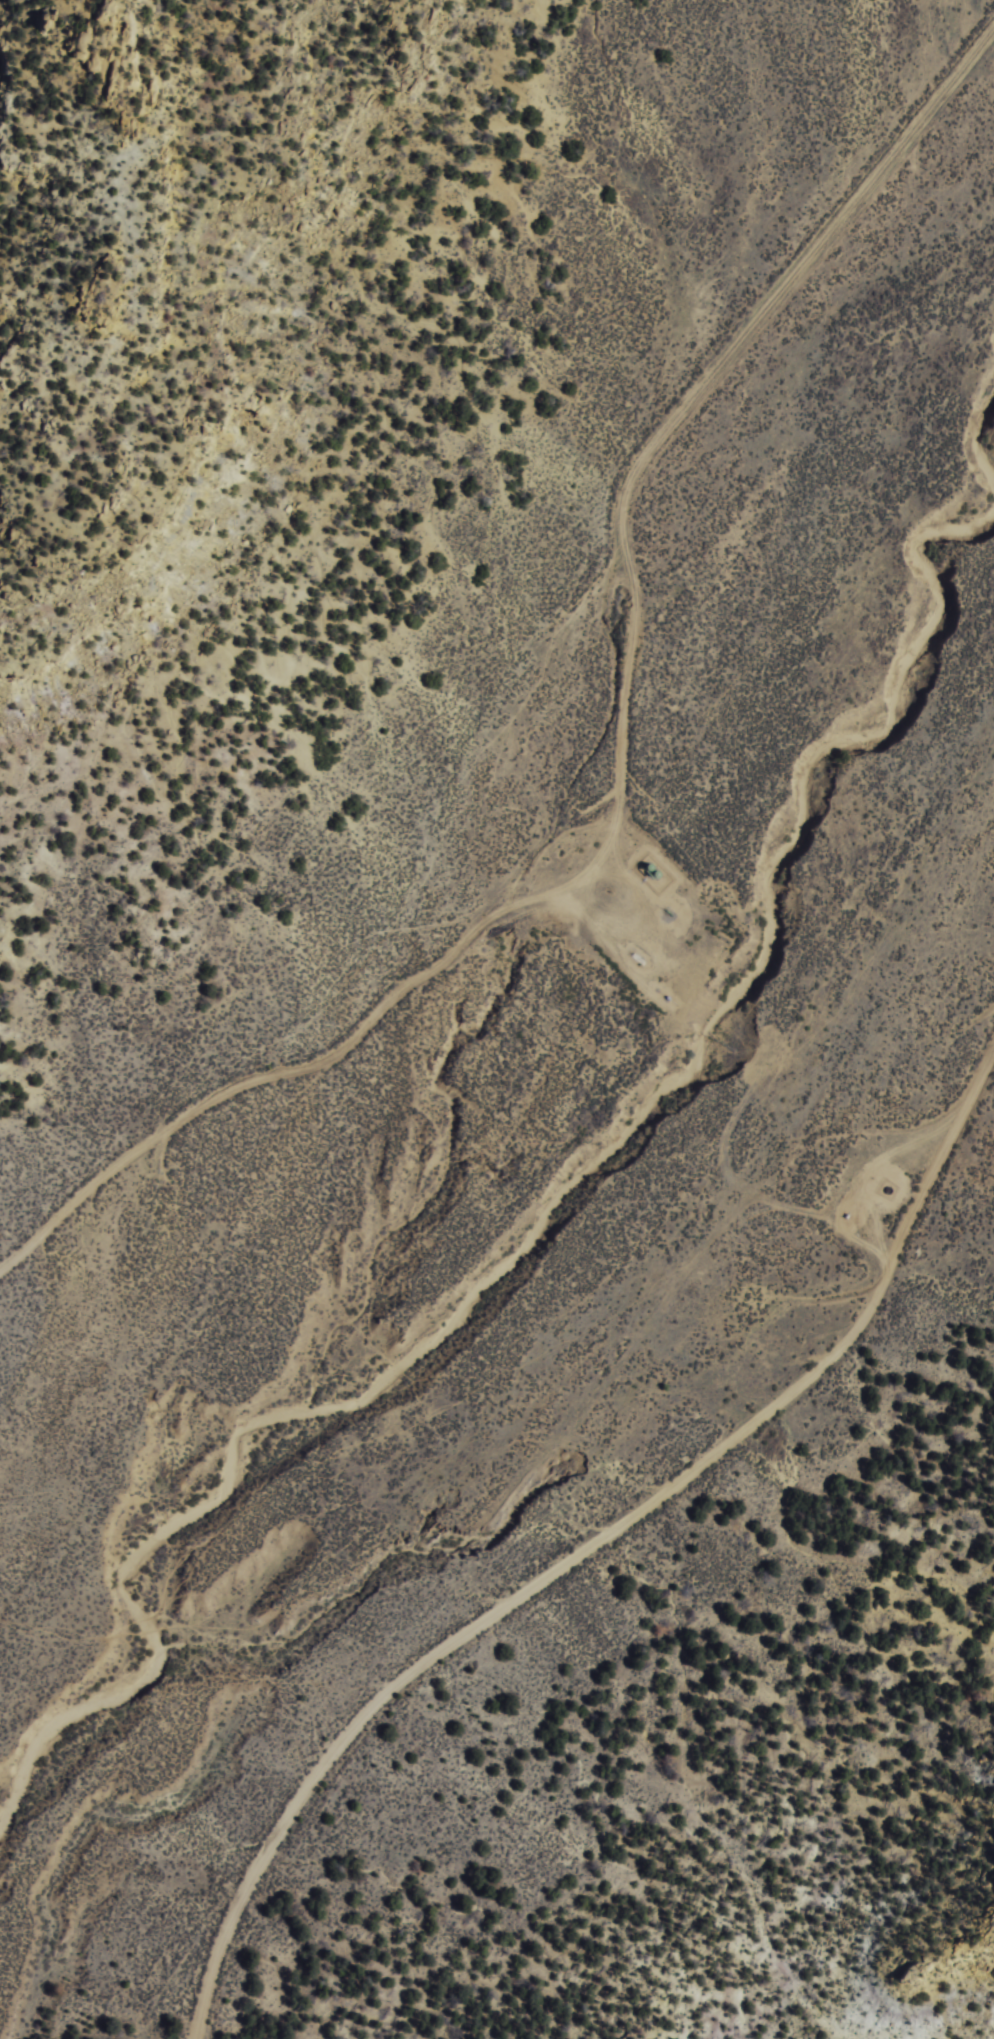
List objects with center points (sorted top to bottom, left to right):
road: (575, 1559)

